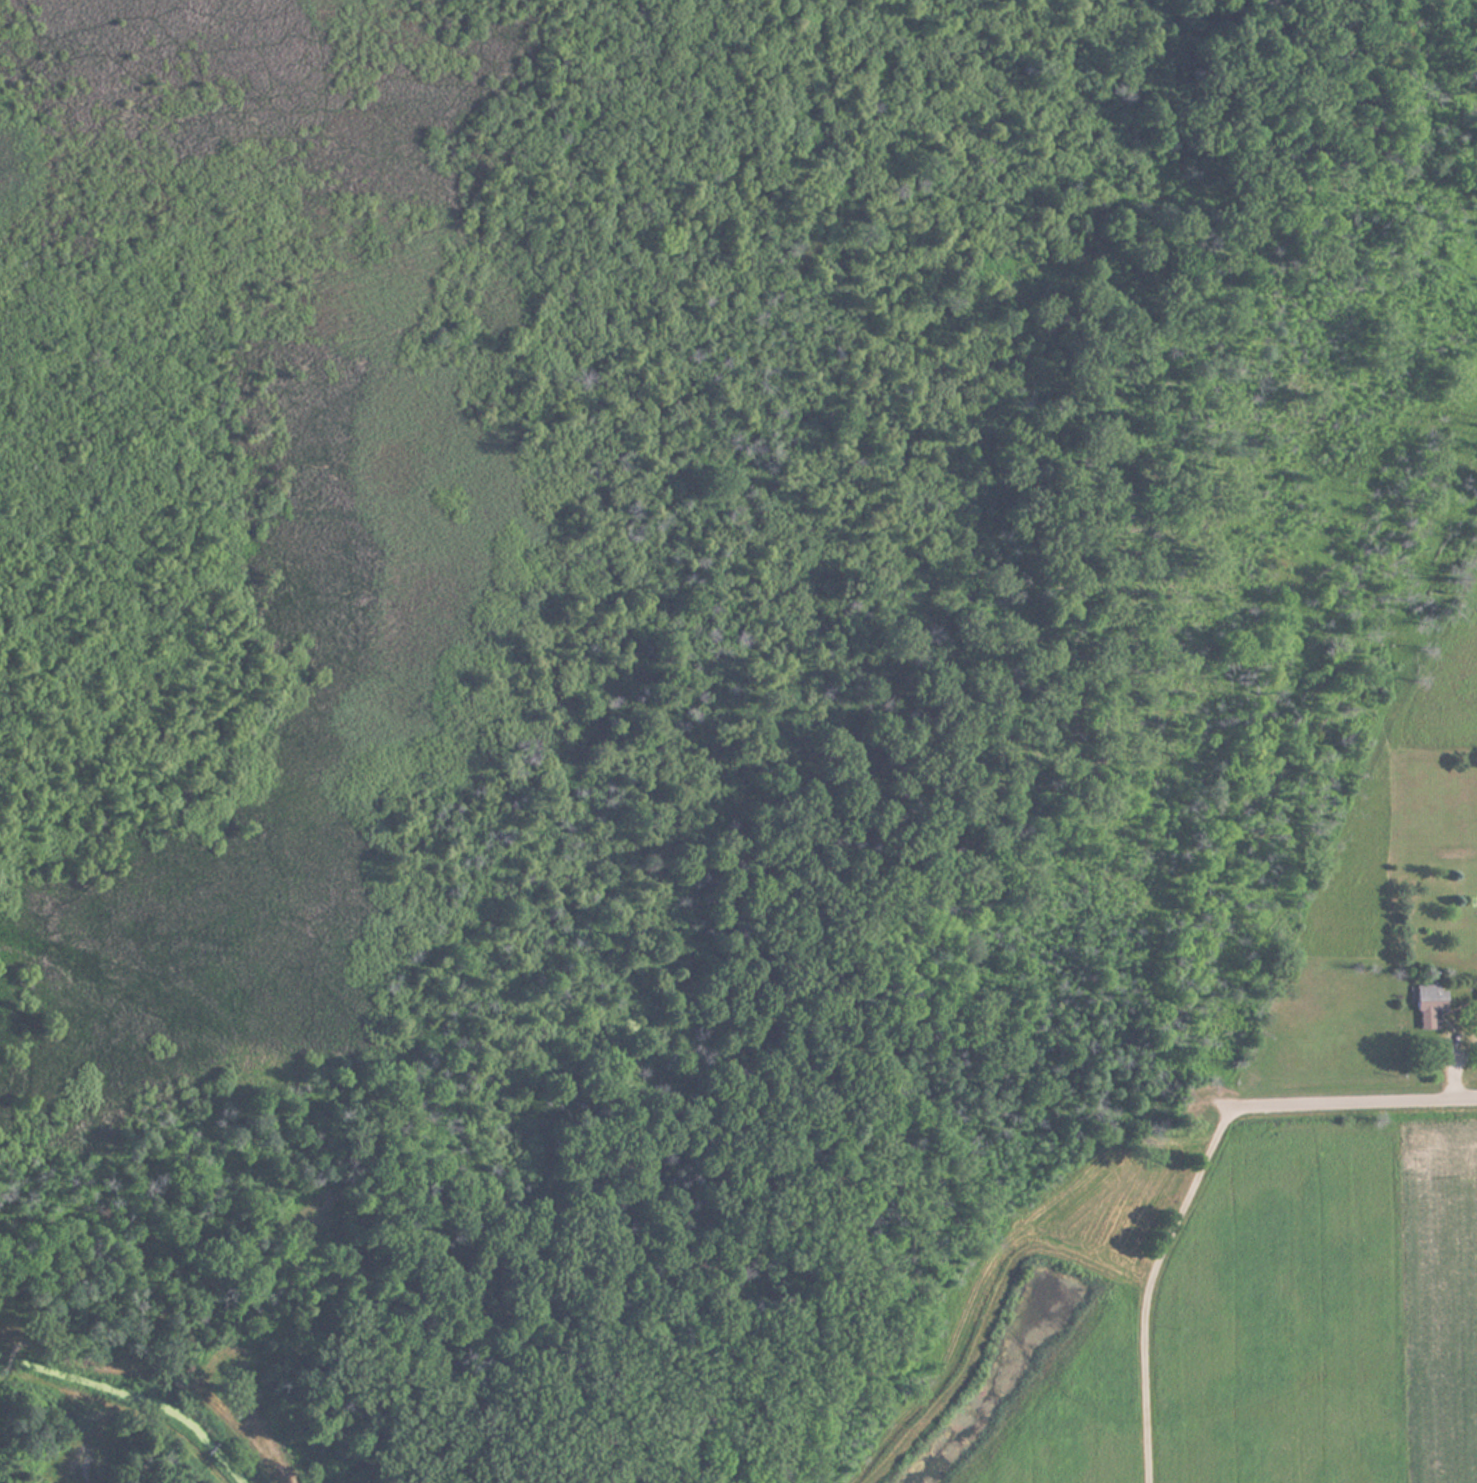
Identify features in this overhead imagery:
building: (1476, 992)
building: (1429, 1004)
road: (1338, 1103)
road: (1145, 1284)

